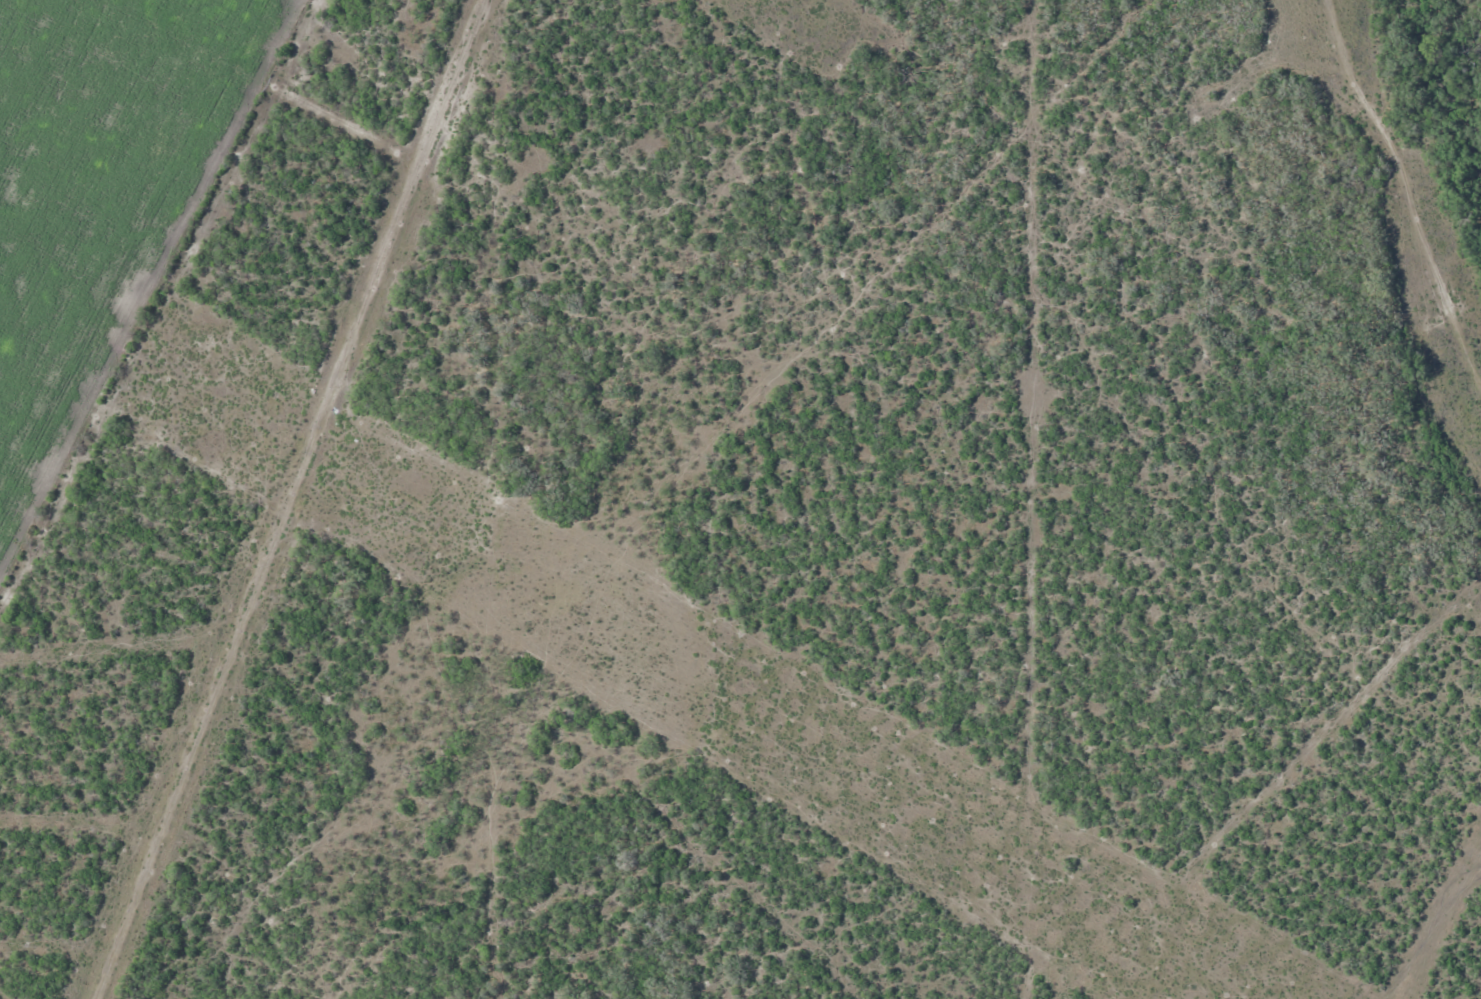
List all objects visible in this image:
road: (301, 495)

